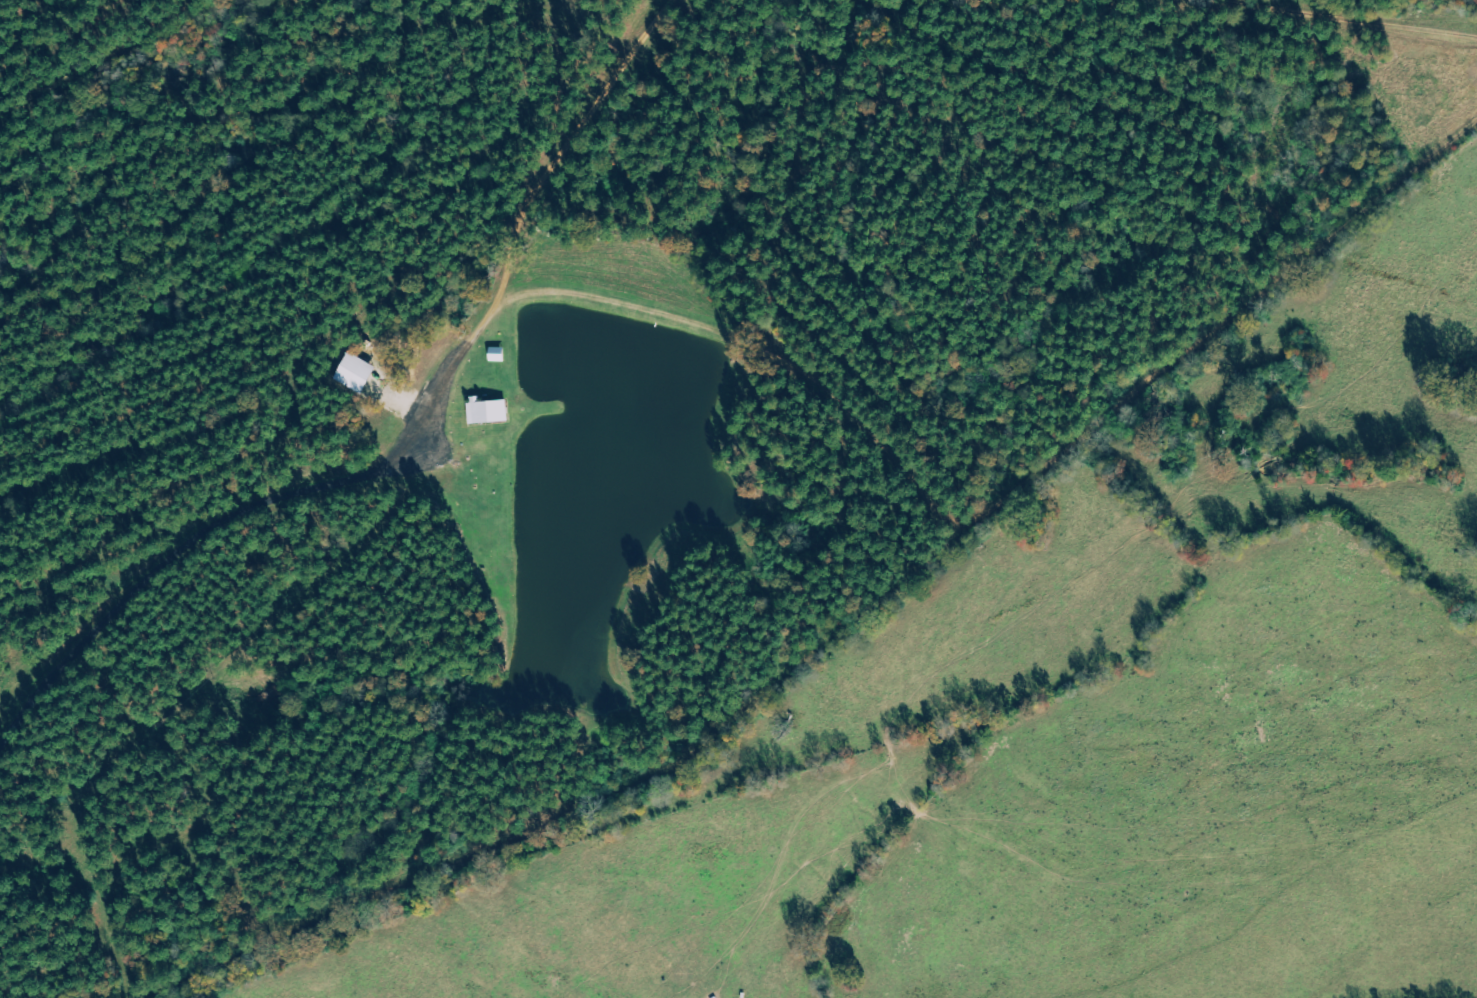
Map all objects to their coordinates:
building: (357, 373)
building: (490, 411)

